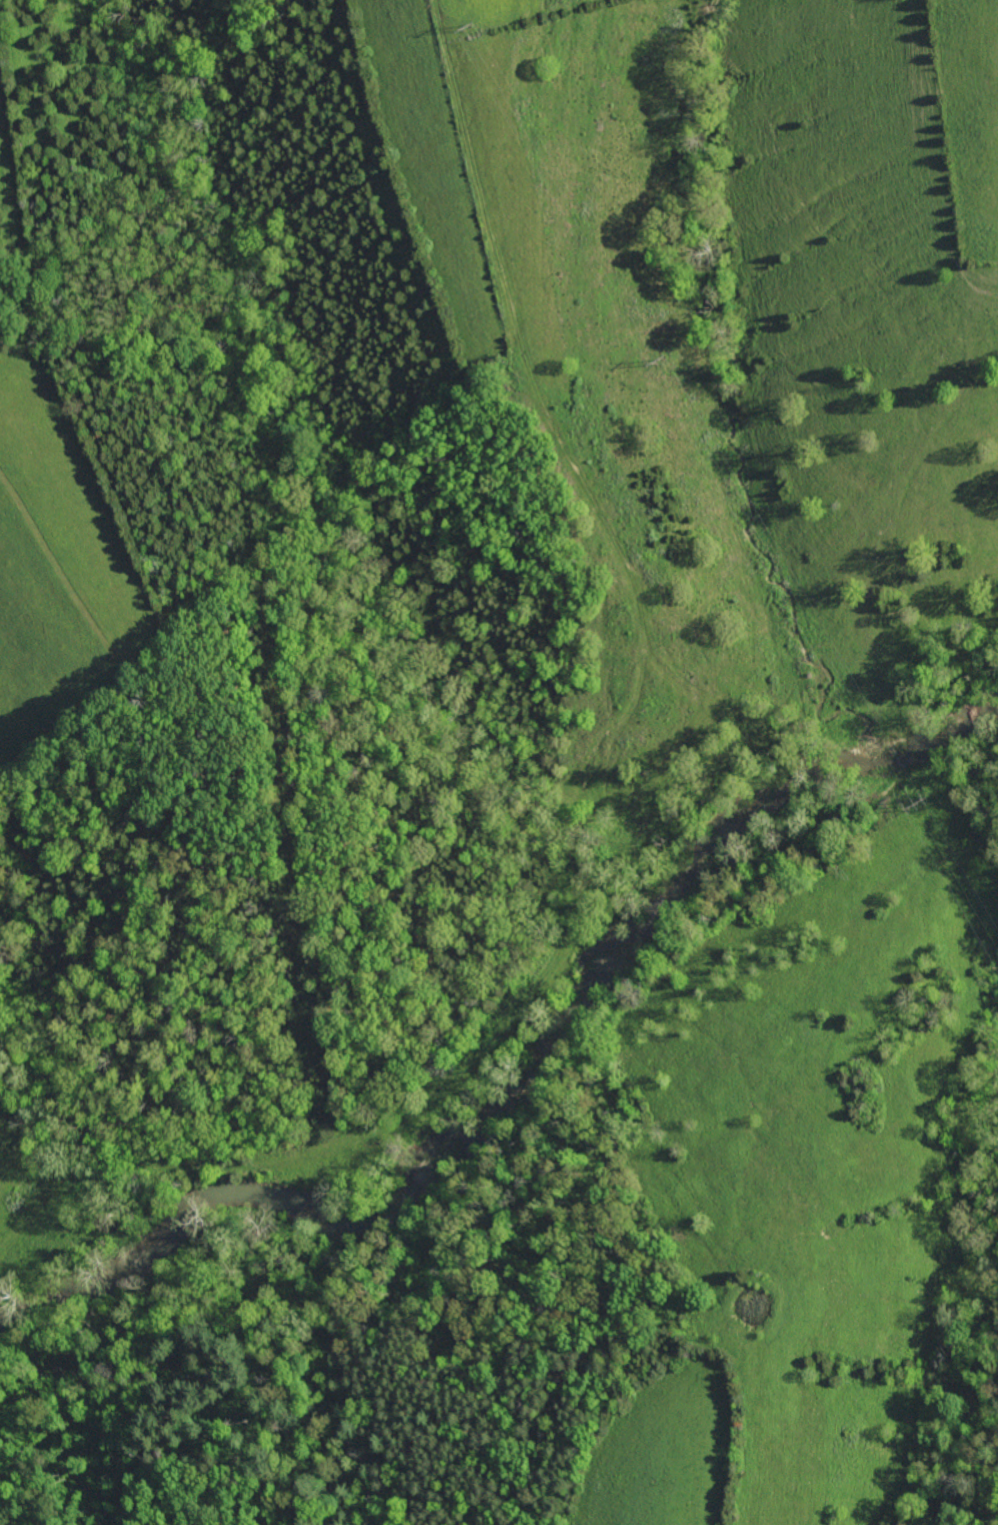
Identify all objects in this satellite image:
power tower: (473, 23)
power tower: (666, 355)
power tower: (923, 795)

